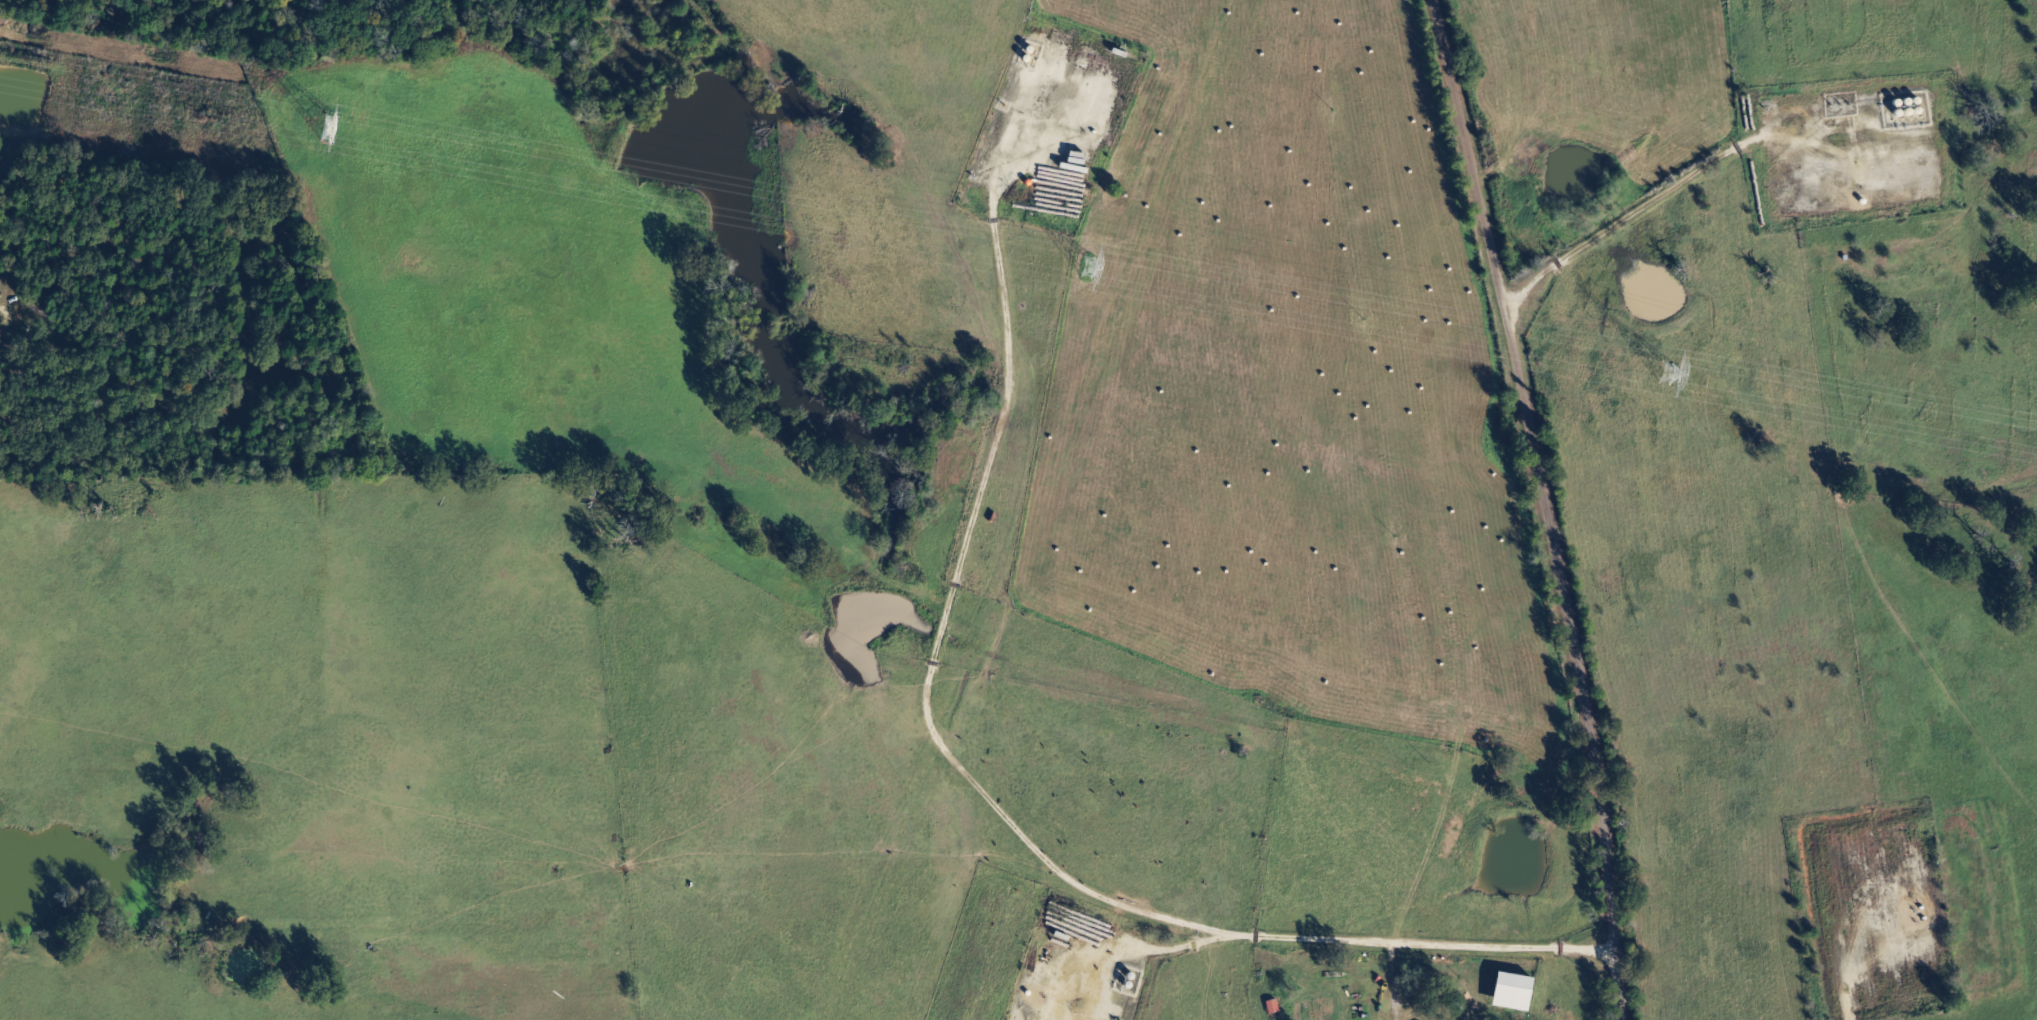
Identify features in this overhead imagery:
power tower: (307, 123)
power tower: (1089, 265)
building: (1, 329)
power tower: (1666, 371)
road: (1541, 505)
road: (964, 616)
building: (1517, 992)
building: (1274, 1007)

